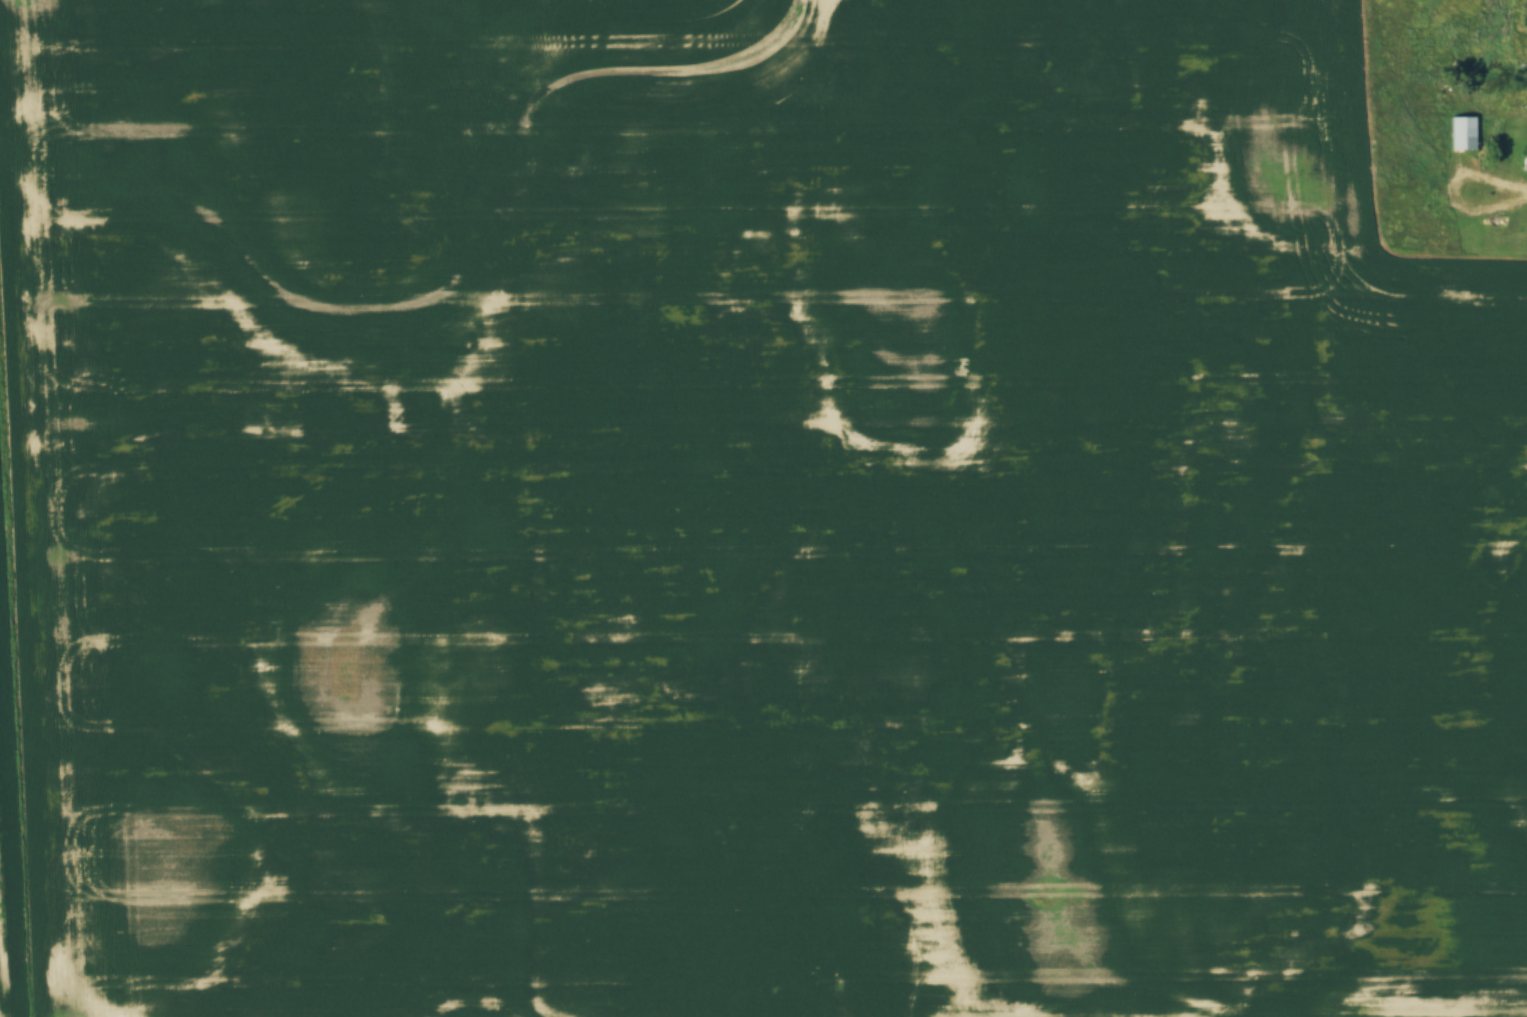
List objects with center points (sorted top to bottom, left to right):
road: (1428, 16)
building: (1461, 133)
building: (1525, 162)
road: (1524, 189)
road: (1471, 202)

